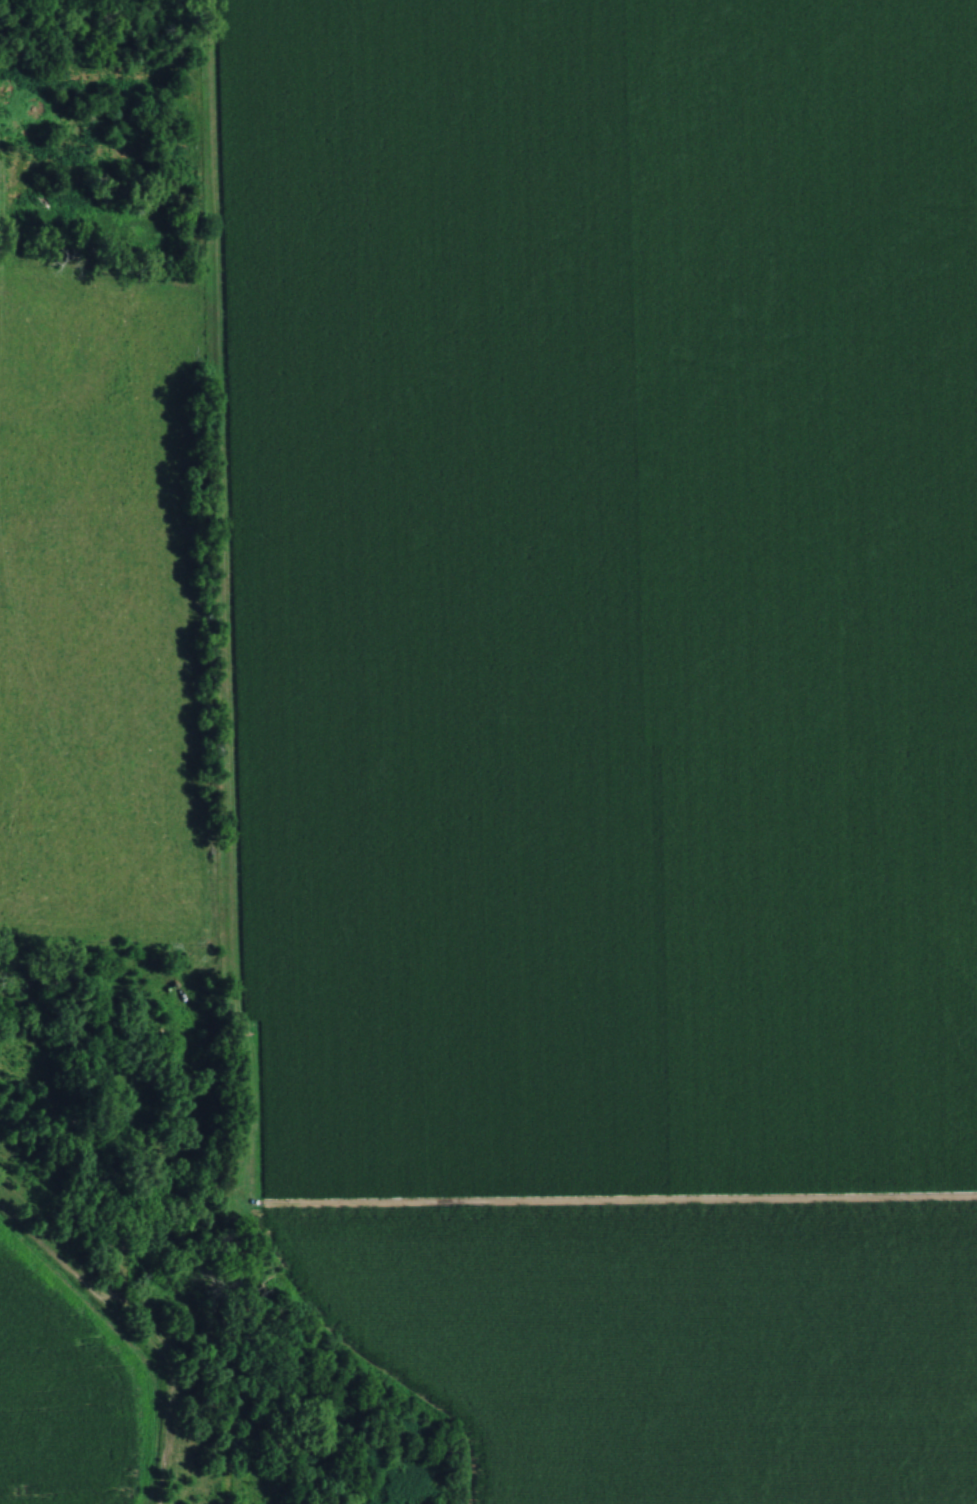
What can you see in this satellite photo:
river: (188, 1234)

